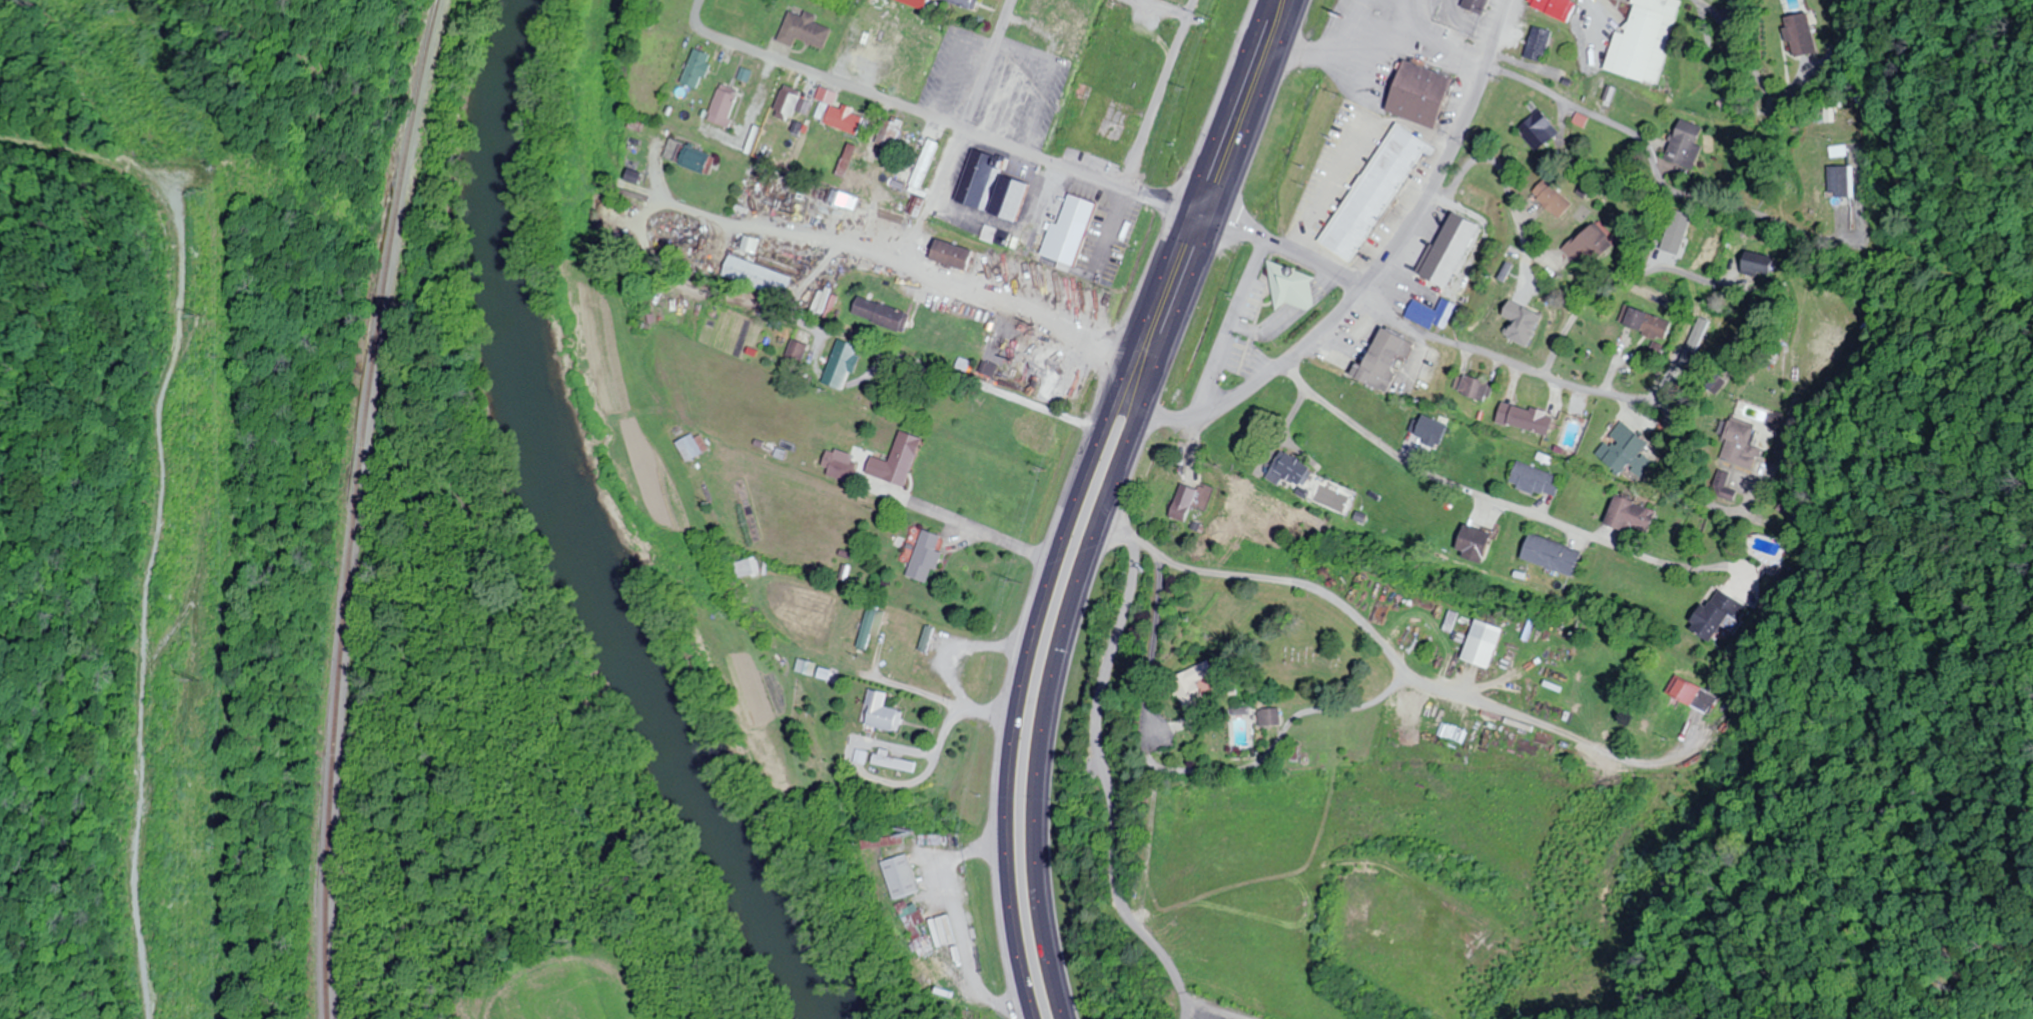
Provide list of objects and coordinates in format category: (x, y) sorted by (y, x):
building: (966, 3)
building: (1049, 3)
building: (1478, 5)
building: (1556, 7)
road: (1165, 8)
building: (1117, 17)
building: (807, 30)
building: (1800, 34)
building: (1060, 37)
building: (1646, 40)
building: (1539, 43)
building: (866, 51)
building: (917, 56)
road: (1751, 61)
road: (988, 63)
building: (700, 69)
building: (936, 83)
road: (1159, 92)
building: (1421, 93)
road: (1563, 99)
building: (790, 103)
road: (1226, 105)
building: (726, 106)
building: (844, 118)
road: (947, 120)
building: (641, 124)
building: (1540, 131)
building: (890, 132)
building: (1106, 137)
building: (1686, 144)
building: (698, 160)
building: (925, 164)
road: (1504, 172)
building: (635, 176)
building: (1837, 181)
building: (991, 185)
building: (1375, 192)
building: (1554, 198)
building: (846, 199)
building: (1473, 200)
traffic signals: (1185, 210)
traffic signals: (1216, 224)
building: (1069, 231)
building: (1678, 231)
building: (1591, 243)
building: (1452, 250)
building: (1722, 252)
building: (952, 254)
road: (1293, 255)
building: (1758, 264)
building: (759, 275)
road: (1378, 280)
road: (1621, 280)
building: (1288, 284)
building: (1420, 313)
building: (882, 314)
building: (1647, 323)
building: (1704, 332)
building: (798, 352)
road: (900, 356)
building: (1384, 358)
road: (1503, 358)
building: (844, 364)
building: (990, 367)
building: (1474, 387)
building: (1526, 418)
building: (1742, 444)
building: (695, 446)
building: (1627, 450)
building: (898, 460)
building: (844, 468)
building: (1290, 468)
building: (1537, 480)
building: (1725, 486)
road: (1465, 489)
road: (1109, 497)
building: (1182, 502)
railway: (355, 506)
building: (1632, 515)
road: (974, 531)
river: (579, 534)
building: (1476, 543)
building: (1552, 555)
building: (926, 557)
road: (1040, 604)
building: (1719, 616)
building: (872, 626)
building: (1485, 643)
road: (1395, 655)
building: (808, 657)
building: (1197, 689)
building: (1692, 694)
building: (883, 713)
building: (1273, 717)
building: (891, 760)
road: (1103, 772)
building: (884, 842)
building: (903, 876)
building: (916, 918)
building: (929, 945)
building: (952, 973)
road: (1185, 1008)
road: (1217, 1008)

